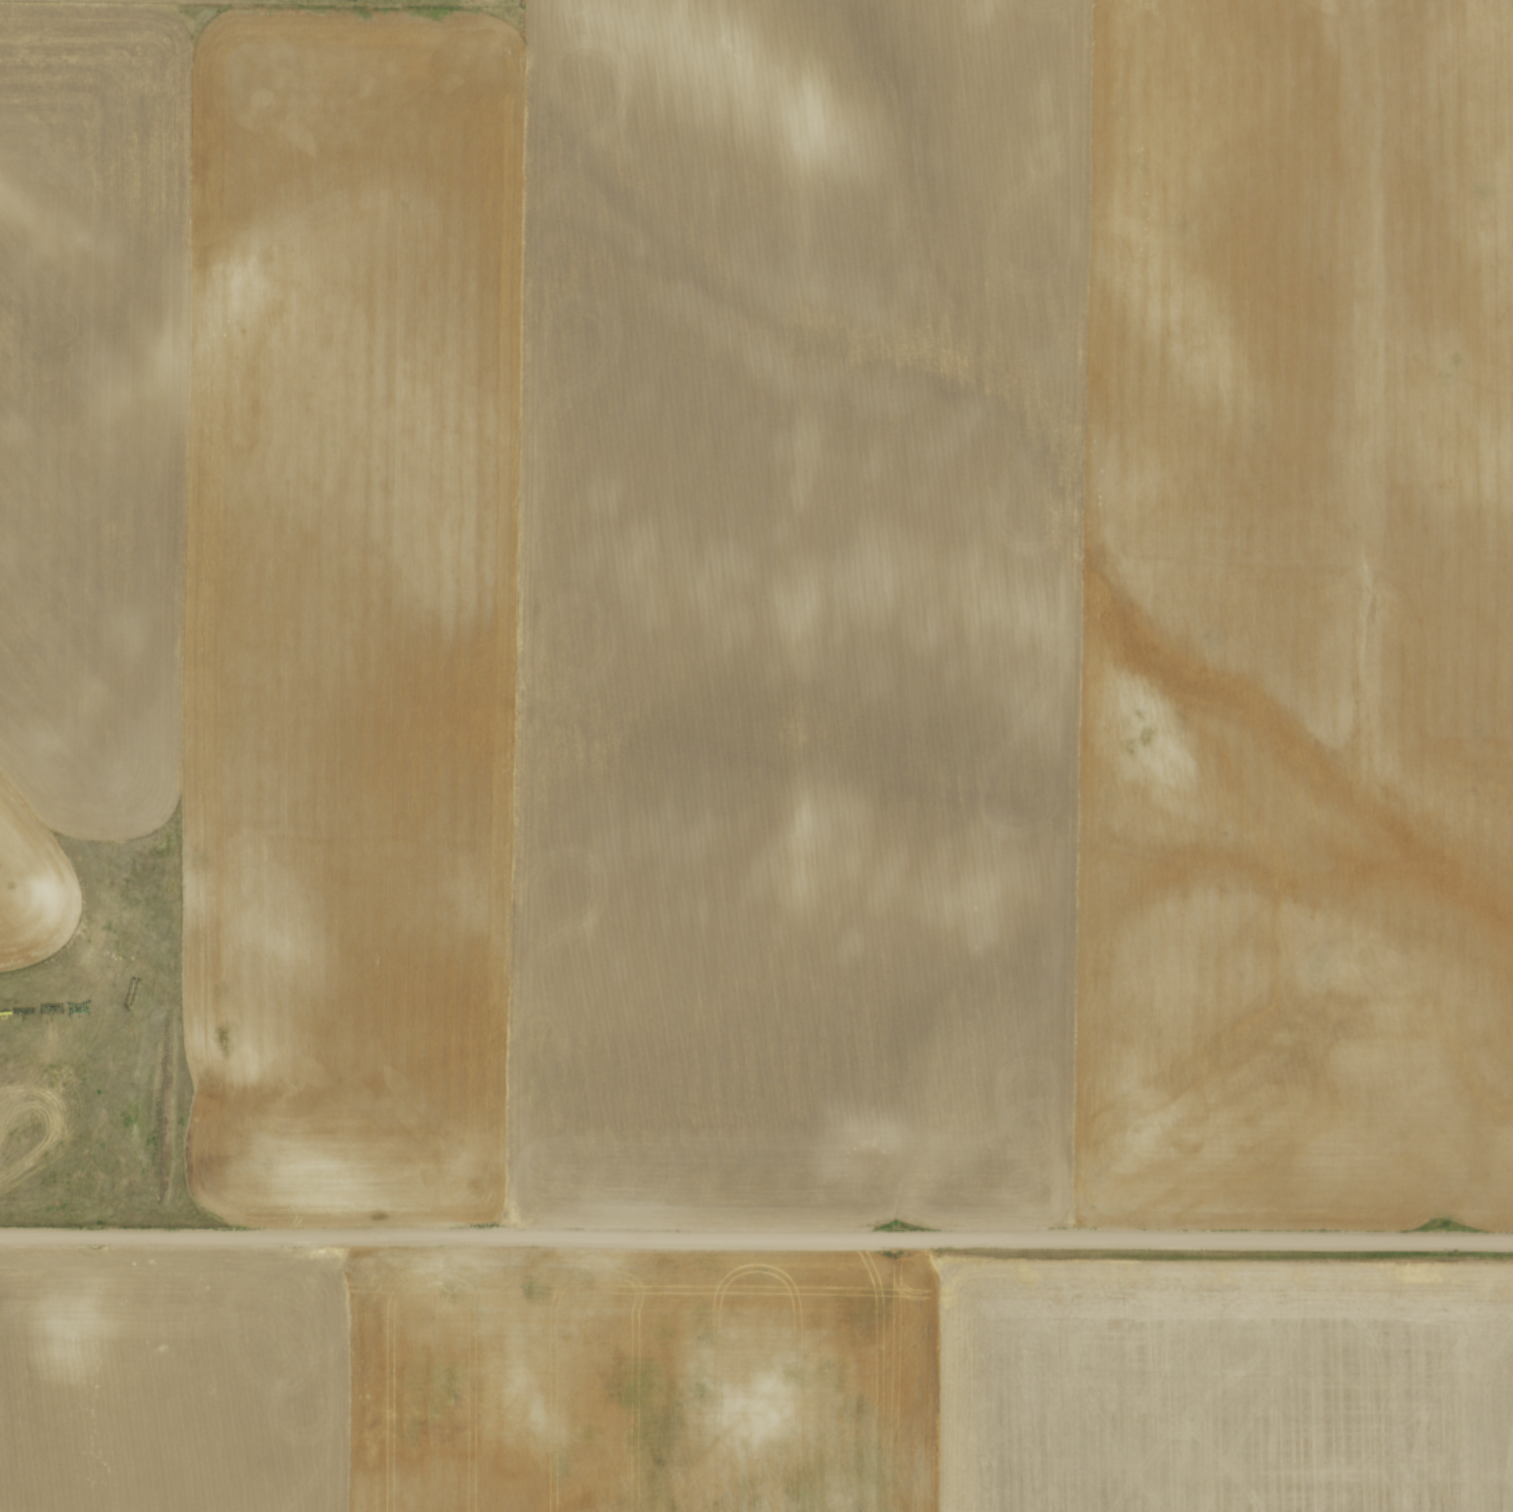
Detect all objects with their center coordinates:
crop: (779, 596)
road: (756, 1236)
crop: (752, 1383)

